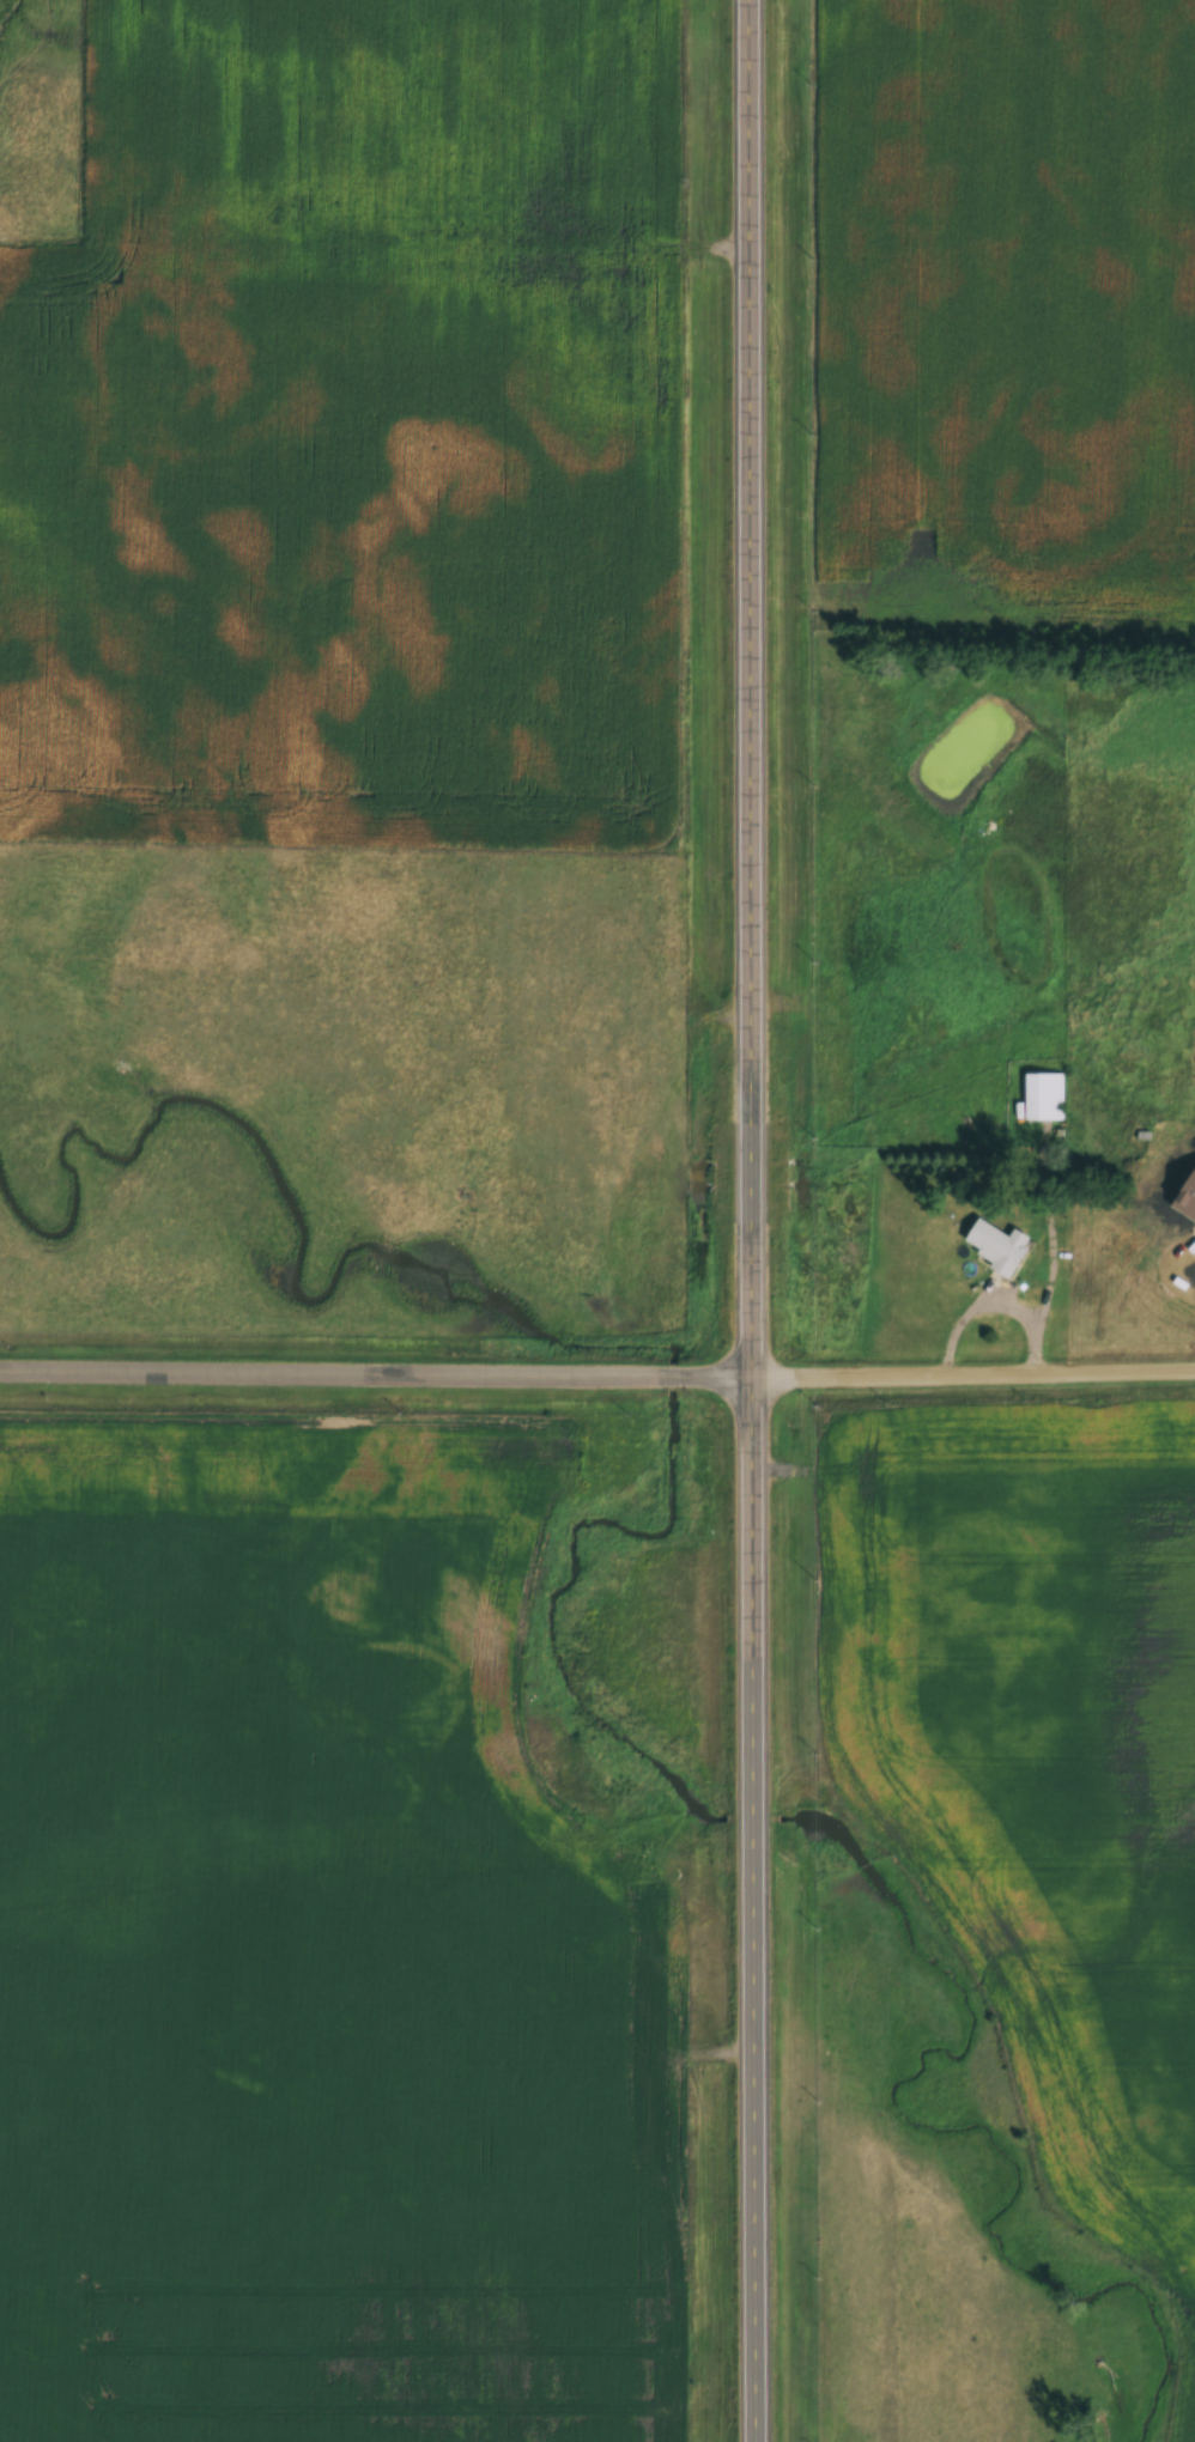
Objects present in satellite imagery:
road: (963, 12)
building: (1041, 1094)
road: (758, 1221)
building: (991, 1245)
road: (597, 1374)

